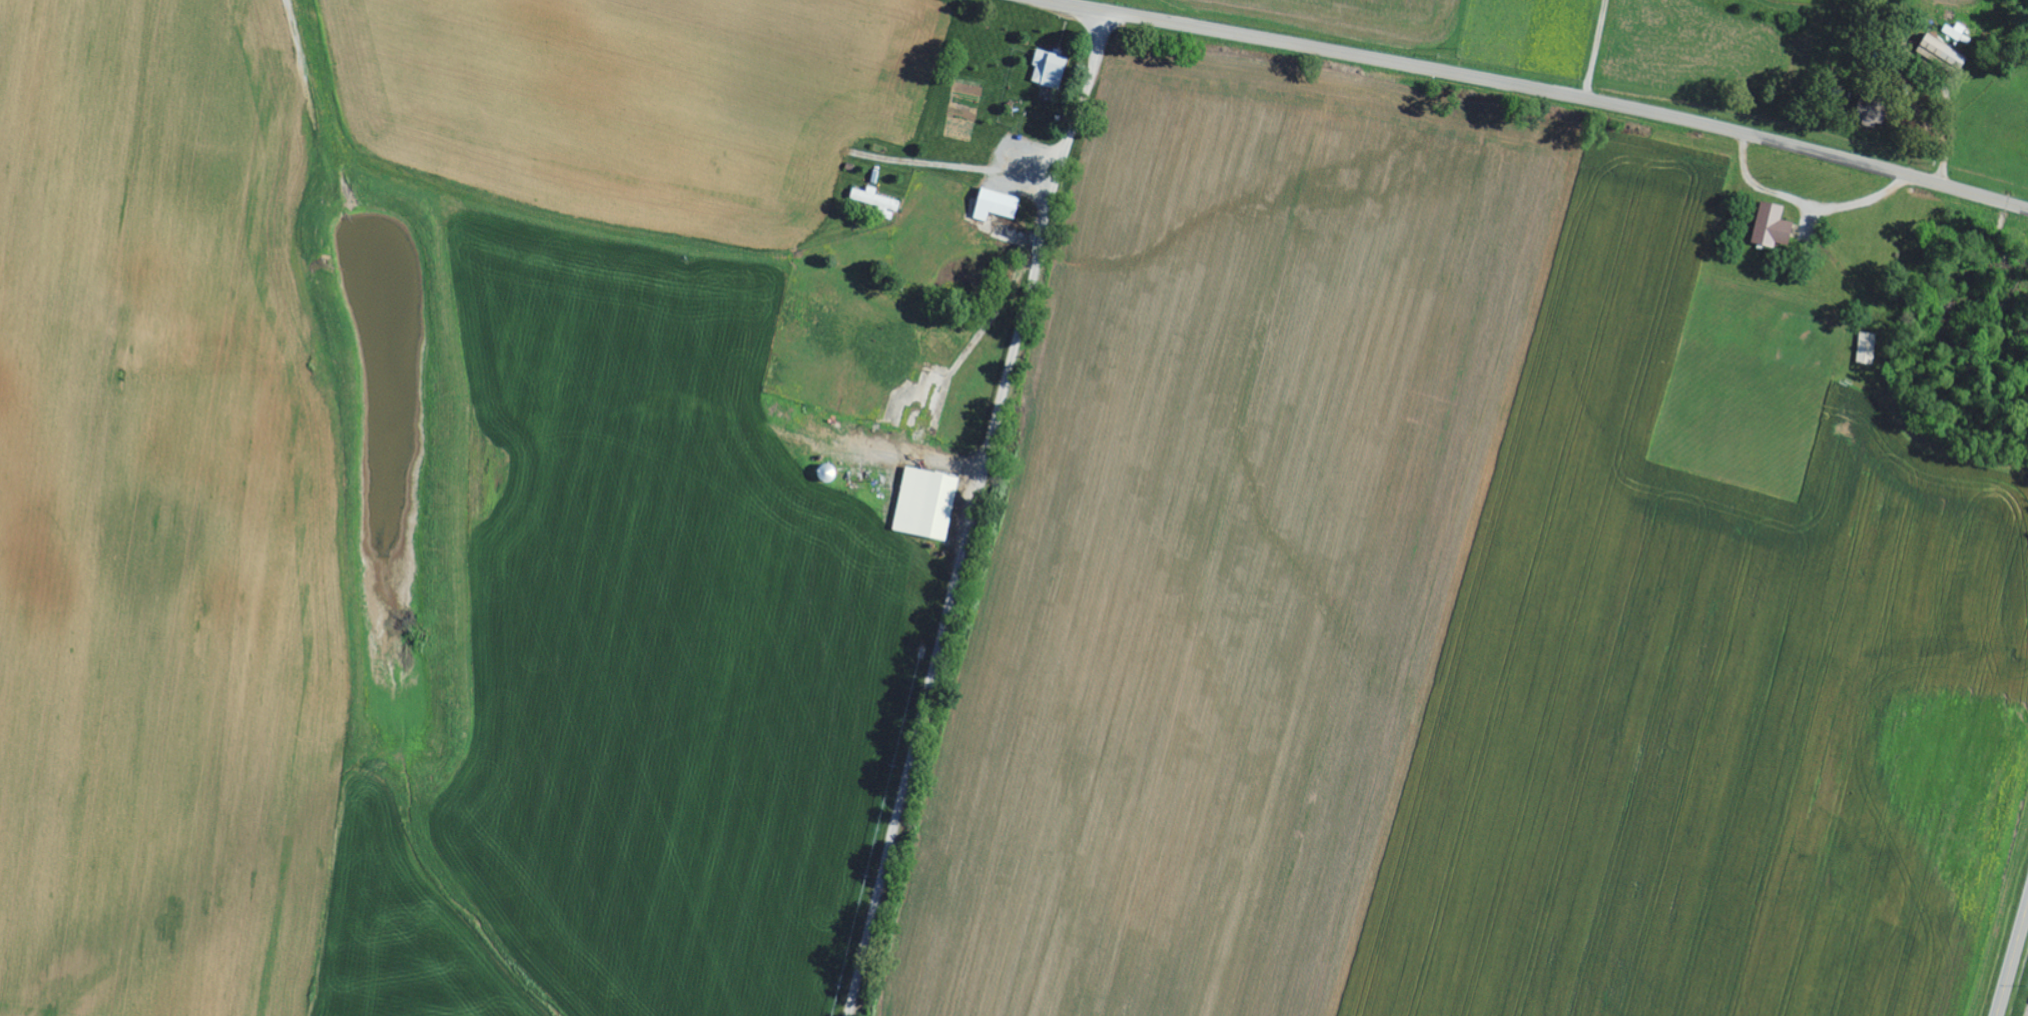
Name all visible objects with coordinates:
building: (1954, 32)
building: (1939, 54)
building: (1045, 69)
road: (1541, 90)
building: (1863, 114)
building: (874, 202)
building: (992, 205)
building: (1768, 227)
building: (1866, 349)
building: (922, 505)
road: (2012, 961)

